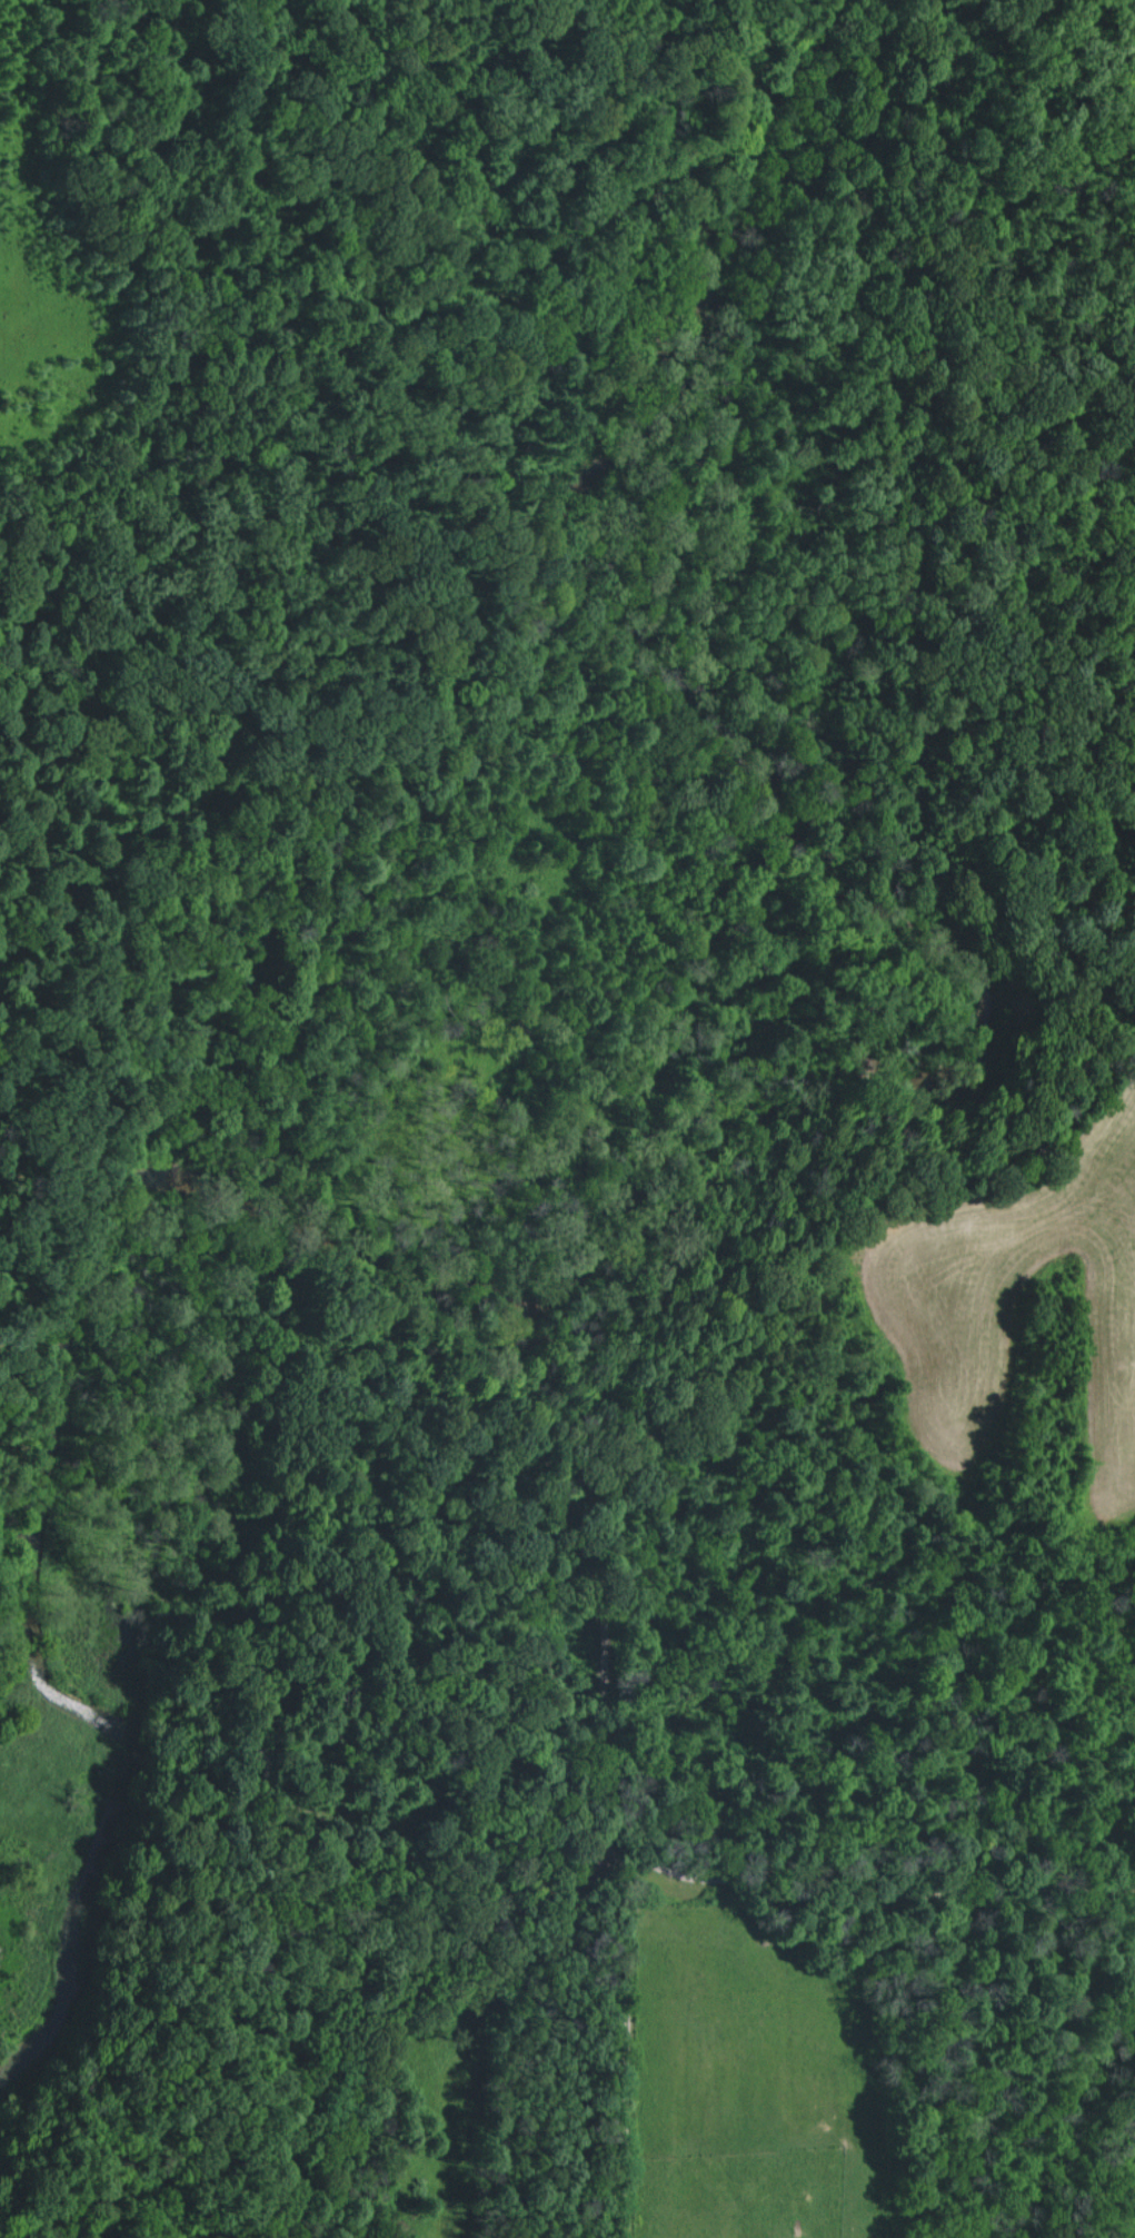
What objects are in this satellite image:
road: (1132, 14)
road: (606, 1494)
road: (870, 1892)

